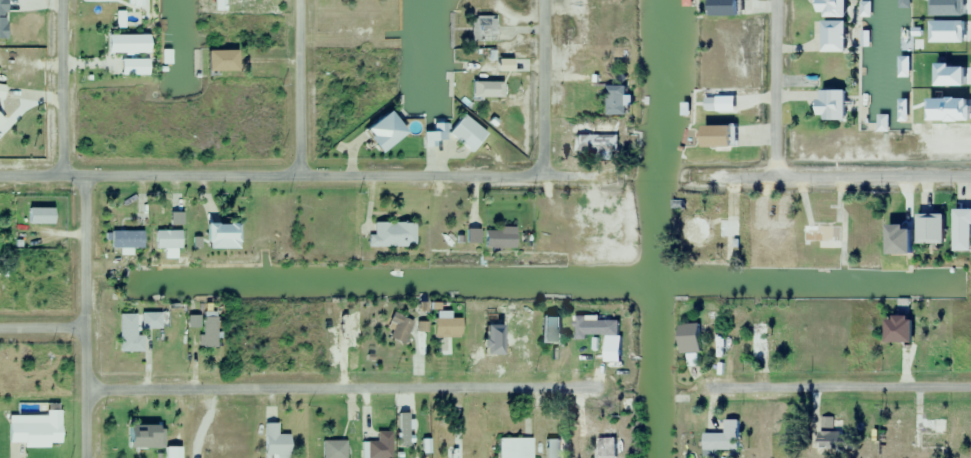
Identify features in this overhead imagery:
building: (721, 7)
building: (829, 8)
building: (484, 30)
building: (831, 36)
building: (124, 44)
building: (218, 61)
building: (130, 67)
road: (772, 86)
road: (61, 88)
road: (296, 89)
road: (541, 89)
building: (484, 90)
building: (0, 91)
building: (828, 105)
building: (1, 119)
building: (379, 132)
building: (457, 134)
building: (714, 136)
building: (592, 140)
road: (874, 176)
road: (270, 177)
building: (38, 216)
building: (727, 229)
building: (928, 229)
building: (694, 230)
building: (961, 230)
building: (391, 235)
building: (217, 236)
building: (822, 236)
building: (496, 239)
building: (124, 240)
building: (895, 240)
building: (167, 243)
road: (83, 317)
road: (42, 327)
building: (444, 328)
building: (892, 328)
building: (397, 329)
building: (547, 331)
building: (207, 332)
building: (127, 335)
building: (691, 341)
building: (756, 341)
road: (334, 387)
road: (842, 387)
building: (42, 432)
building: (139, 437)
building: (931, 437)
building: (720, 440)
building: (273, 442)
building: (377, 446)
building: (514, 448)
building: (552, 448)
building: (602, 448)
building: (332, 449)
building: (450, 449)
building: (171, 454)

